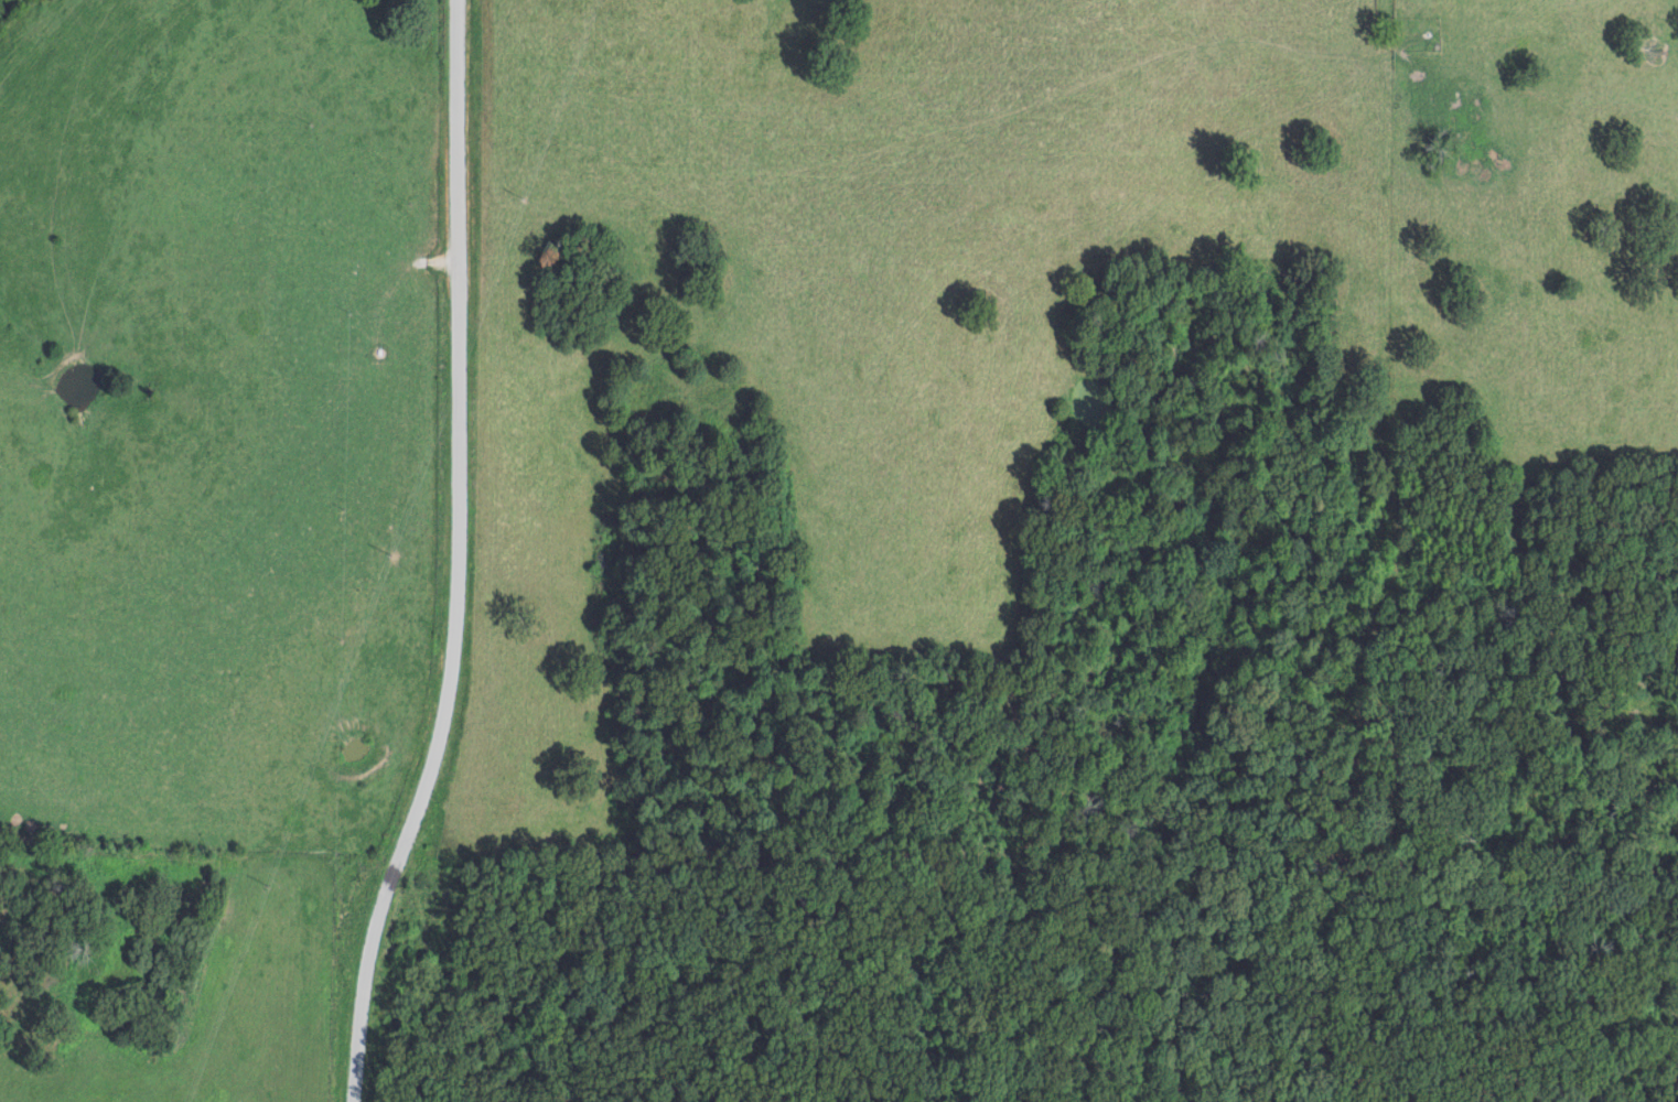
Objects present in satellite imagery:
road: (4, 4)
road: (458, 576)

